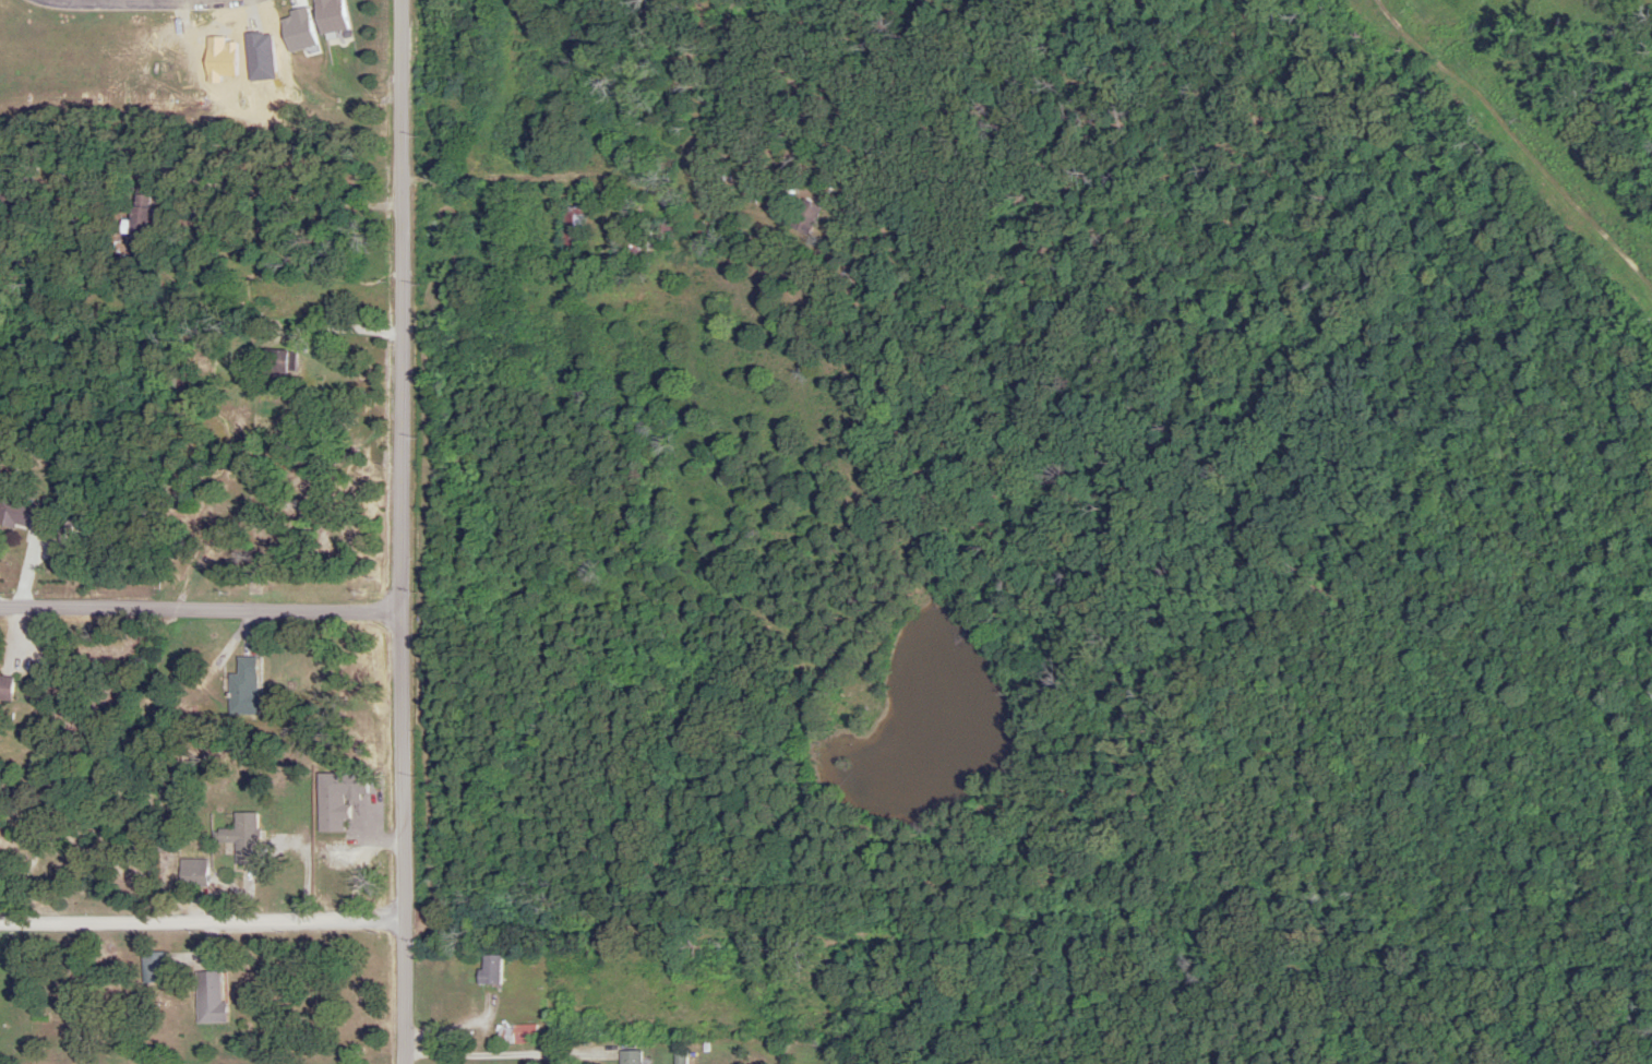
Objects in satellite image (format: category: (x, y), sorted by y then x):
building: (327, 15)
building: (136, 214)
building: (803, 217)
building: (573, 225)
building: (278, 366)
building: (21, 516)
road: (399, 531)
road: (200, 608)
building: (4, 688)
building: (241, 688)
building: (239, 838)
building: (190, 873)
road: (201, 926)
building: (152, 967)
building: (488, 970)
building: (206, 997)
building: (515, 1035)
road: (487, 1055)
building: (609, 1055)
building: (678, 1057)

